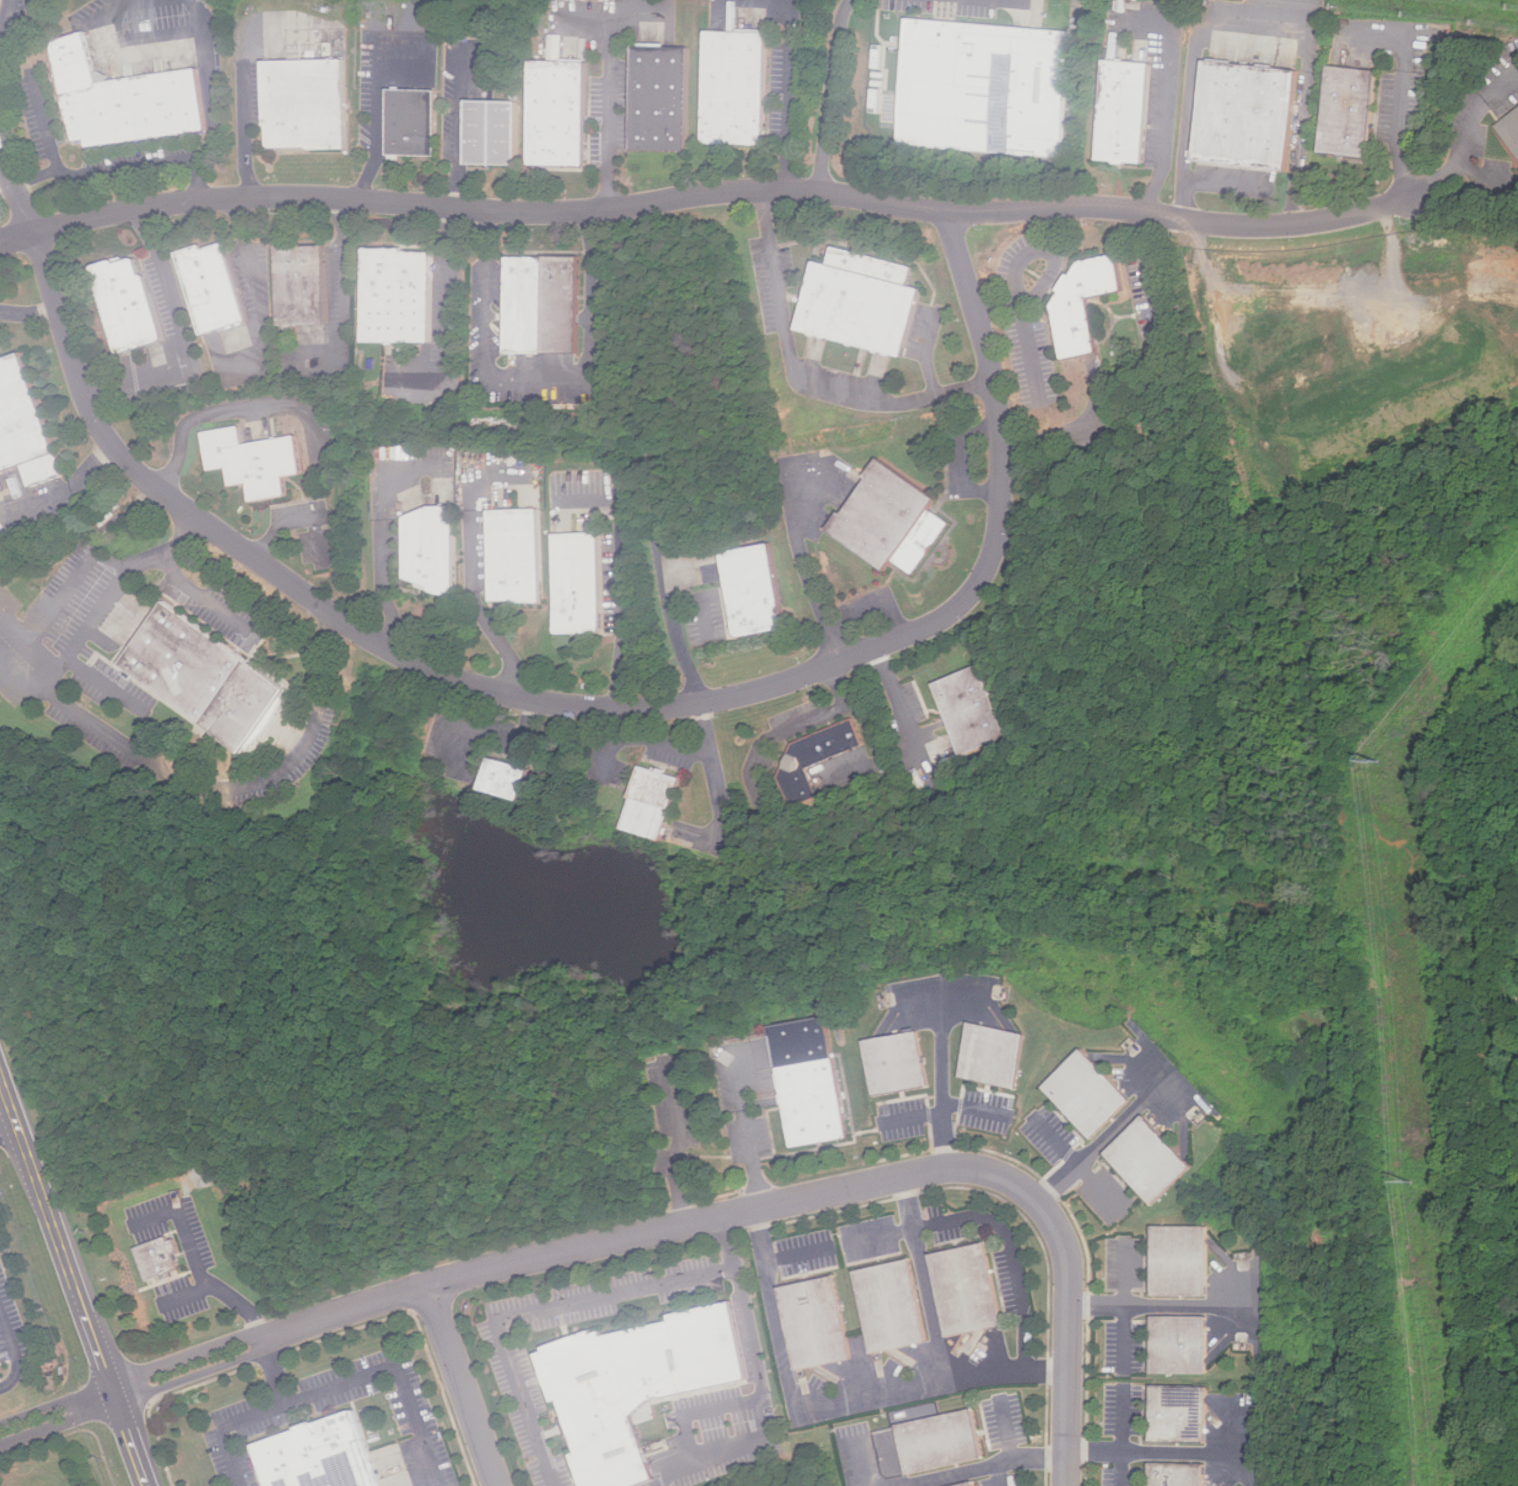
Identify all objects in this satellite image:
building: (0, 2)
road: (6, 16)
road: (1255, 23)
building: (555, 47)
building: (732, 87)
road: (33, 88)
building: (984, 88)
road: (1402, 91)
road: (829, 94)
road: (791, 95)
building: (129, 97)
building: (658, 97)
road: (220, 98)
building: (302, 103)
road: (248, 107)
road: (611, 109)
building: (1121, 109)
building: (1348, 109)
building: (557, 113)
building: (1244, 113)
road: (1168, 114)
building: (409, 119)
building: (1512, 127)
road: (461, 128)
building: (495, 133)
road: (1466, 138)
road: (377, 145)
road: (128, 166)
road: (707, 193)
road: (1023, 259)
road: (252, 277)
road: (1043, 281)
road: (343, 283)
building: (296, 284)
building: (208, 286)
road: (1153, 288)
building: (396, 294)
building: (857, 300)
building: (123, 301)
building: (1081, 302)
building: (541, 303)
road: (29, 312)
road: (448, 313)
road: (181, 338)
road: (1029, 347)
road: (539, 377)
road: (803, 377)
road: (208, 415)
building: (26, 423)
road: (1054, 439)
building: (252, 460)
road: (63, 489)
building: (888, 517)
road: (299, 520)
road: (383, 542)
building: (428, 548)
building: (513, 556)
road: (805, 569)
building: (576, 581)
building: (751, 590)
road: (62, 594)
road: (475, 596)
road: (203, 597)
road: (622, 605)
road: (677, 637)
building: (213, 675)
road: (106, 686)
road: (557, 702)
building: (967, 710)
road: (795, 726)
road: (491, 734)
road: (130, 743)
building: (813, 759)
road: (712, 771)
building: (500, 777)
building: (648, 801)
building: (1000, 1055)
building: (900, 1063)
road: (944, 1076)
building: (812, 1081)
building: (1092, 1094)
road: (978, 1110)
road: (912, 1117)
road: (9, 1128)
road: (1107, 1137)
road: (752, 1138)
road: (676, 1152)
building: (1153, 1160)
road: (1079, 1165)
road: (775, 1204)
road: (878, 1235)
road: (799, 1252)
road: (1011, 1253)
building: (161, 1258)
building: (1180, 1261)
road: (199, 1268)
road: (74, 1279)
road: (924, 1280)
building: (964, 1291)
road: (185, 1296)
road: (1125, 1306)
building: (887, 1307)
road: (1154, 1307)
road: (531, 1313)
building: (813, 1324)
building: (1179, 1345)
road: (15, 1351)
road: (213, 1358)
road: (274, 1373)
building: (632, 1384)
road: (761, 1386)
road: (338, 1387)
road: (829, 1408)
road: (702, 1412)
building: (1178, 1415)
road: (1009, 1426)
road: (1124, 1434)
building: (939, 1444)
road: (1171, 1452)
building: (314, 1456)
road: (860, 1464)
road: (984, 1468)
building: (1176, 1475)
building: (969, 1484)
building: (976, 1484)

